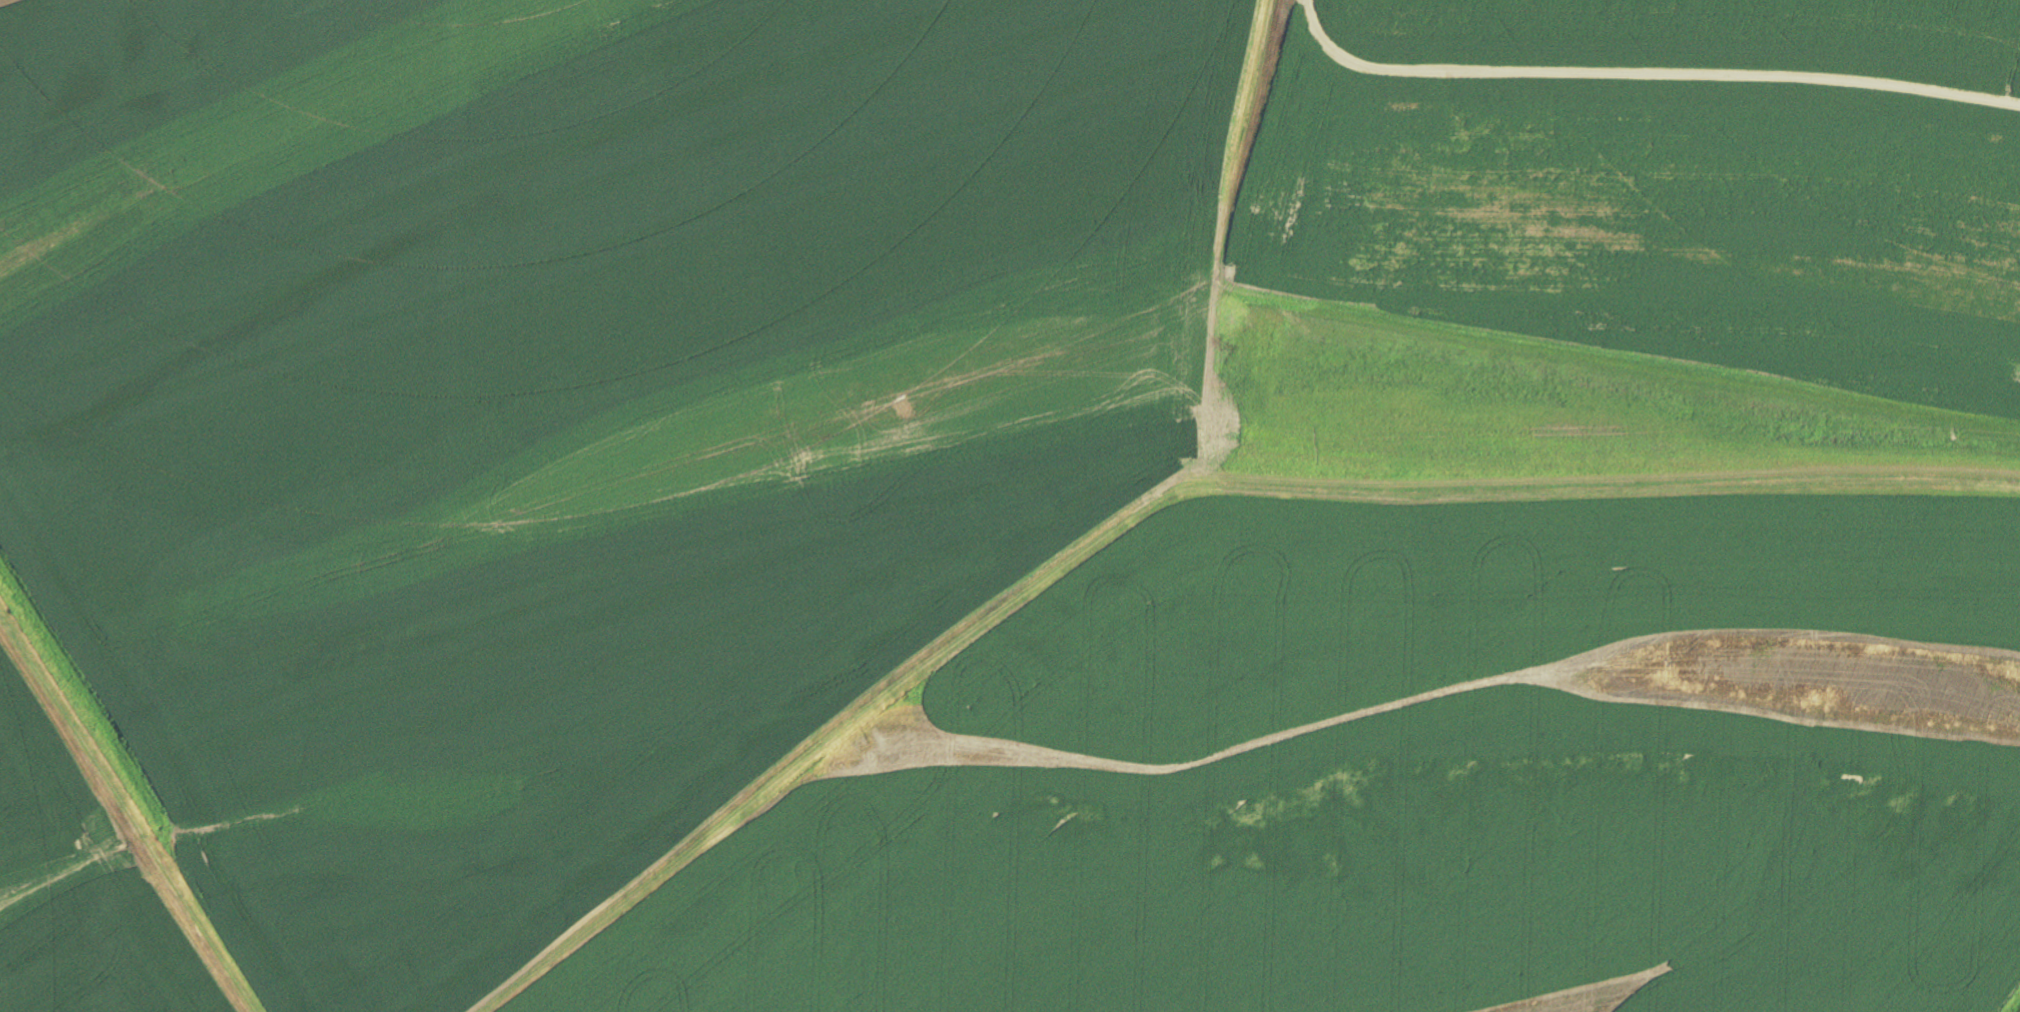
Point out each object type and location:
road: (1643, 72)

